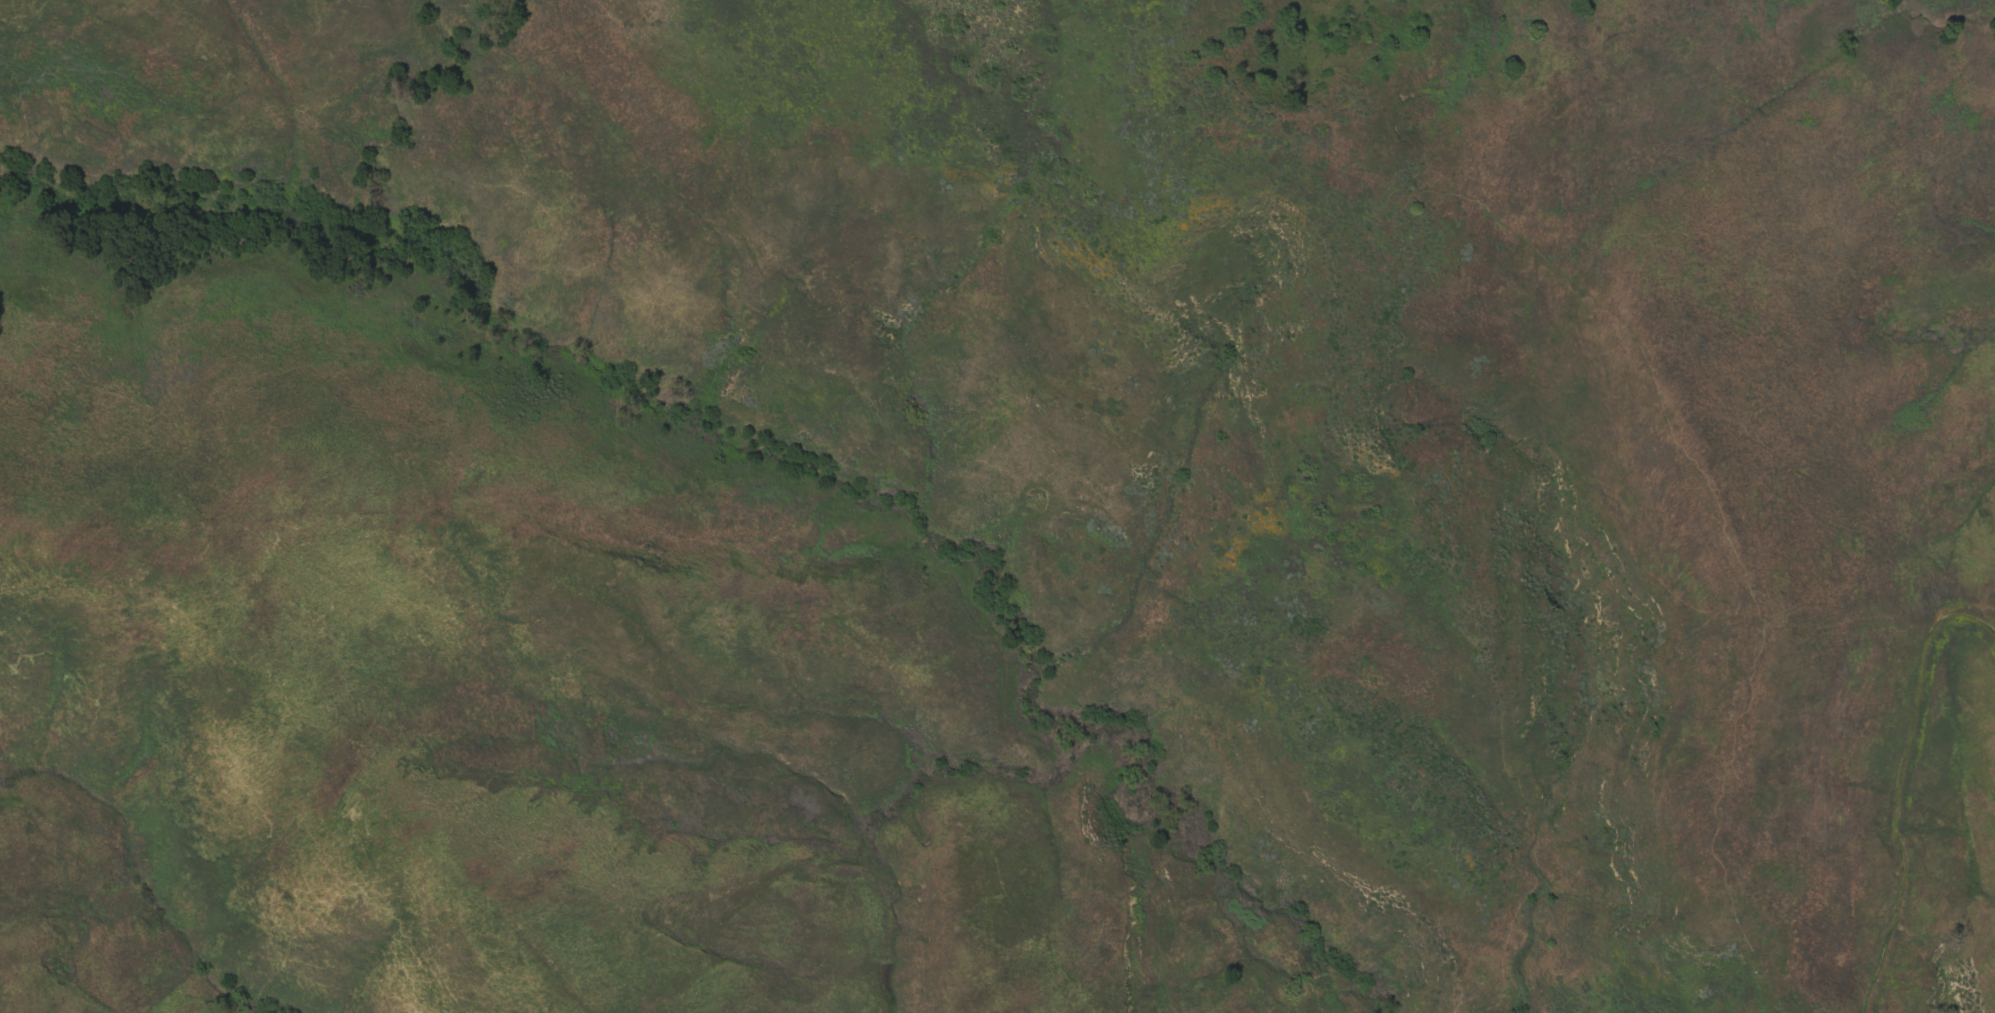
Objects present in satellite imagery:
road: (1900, 782)

